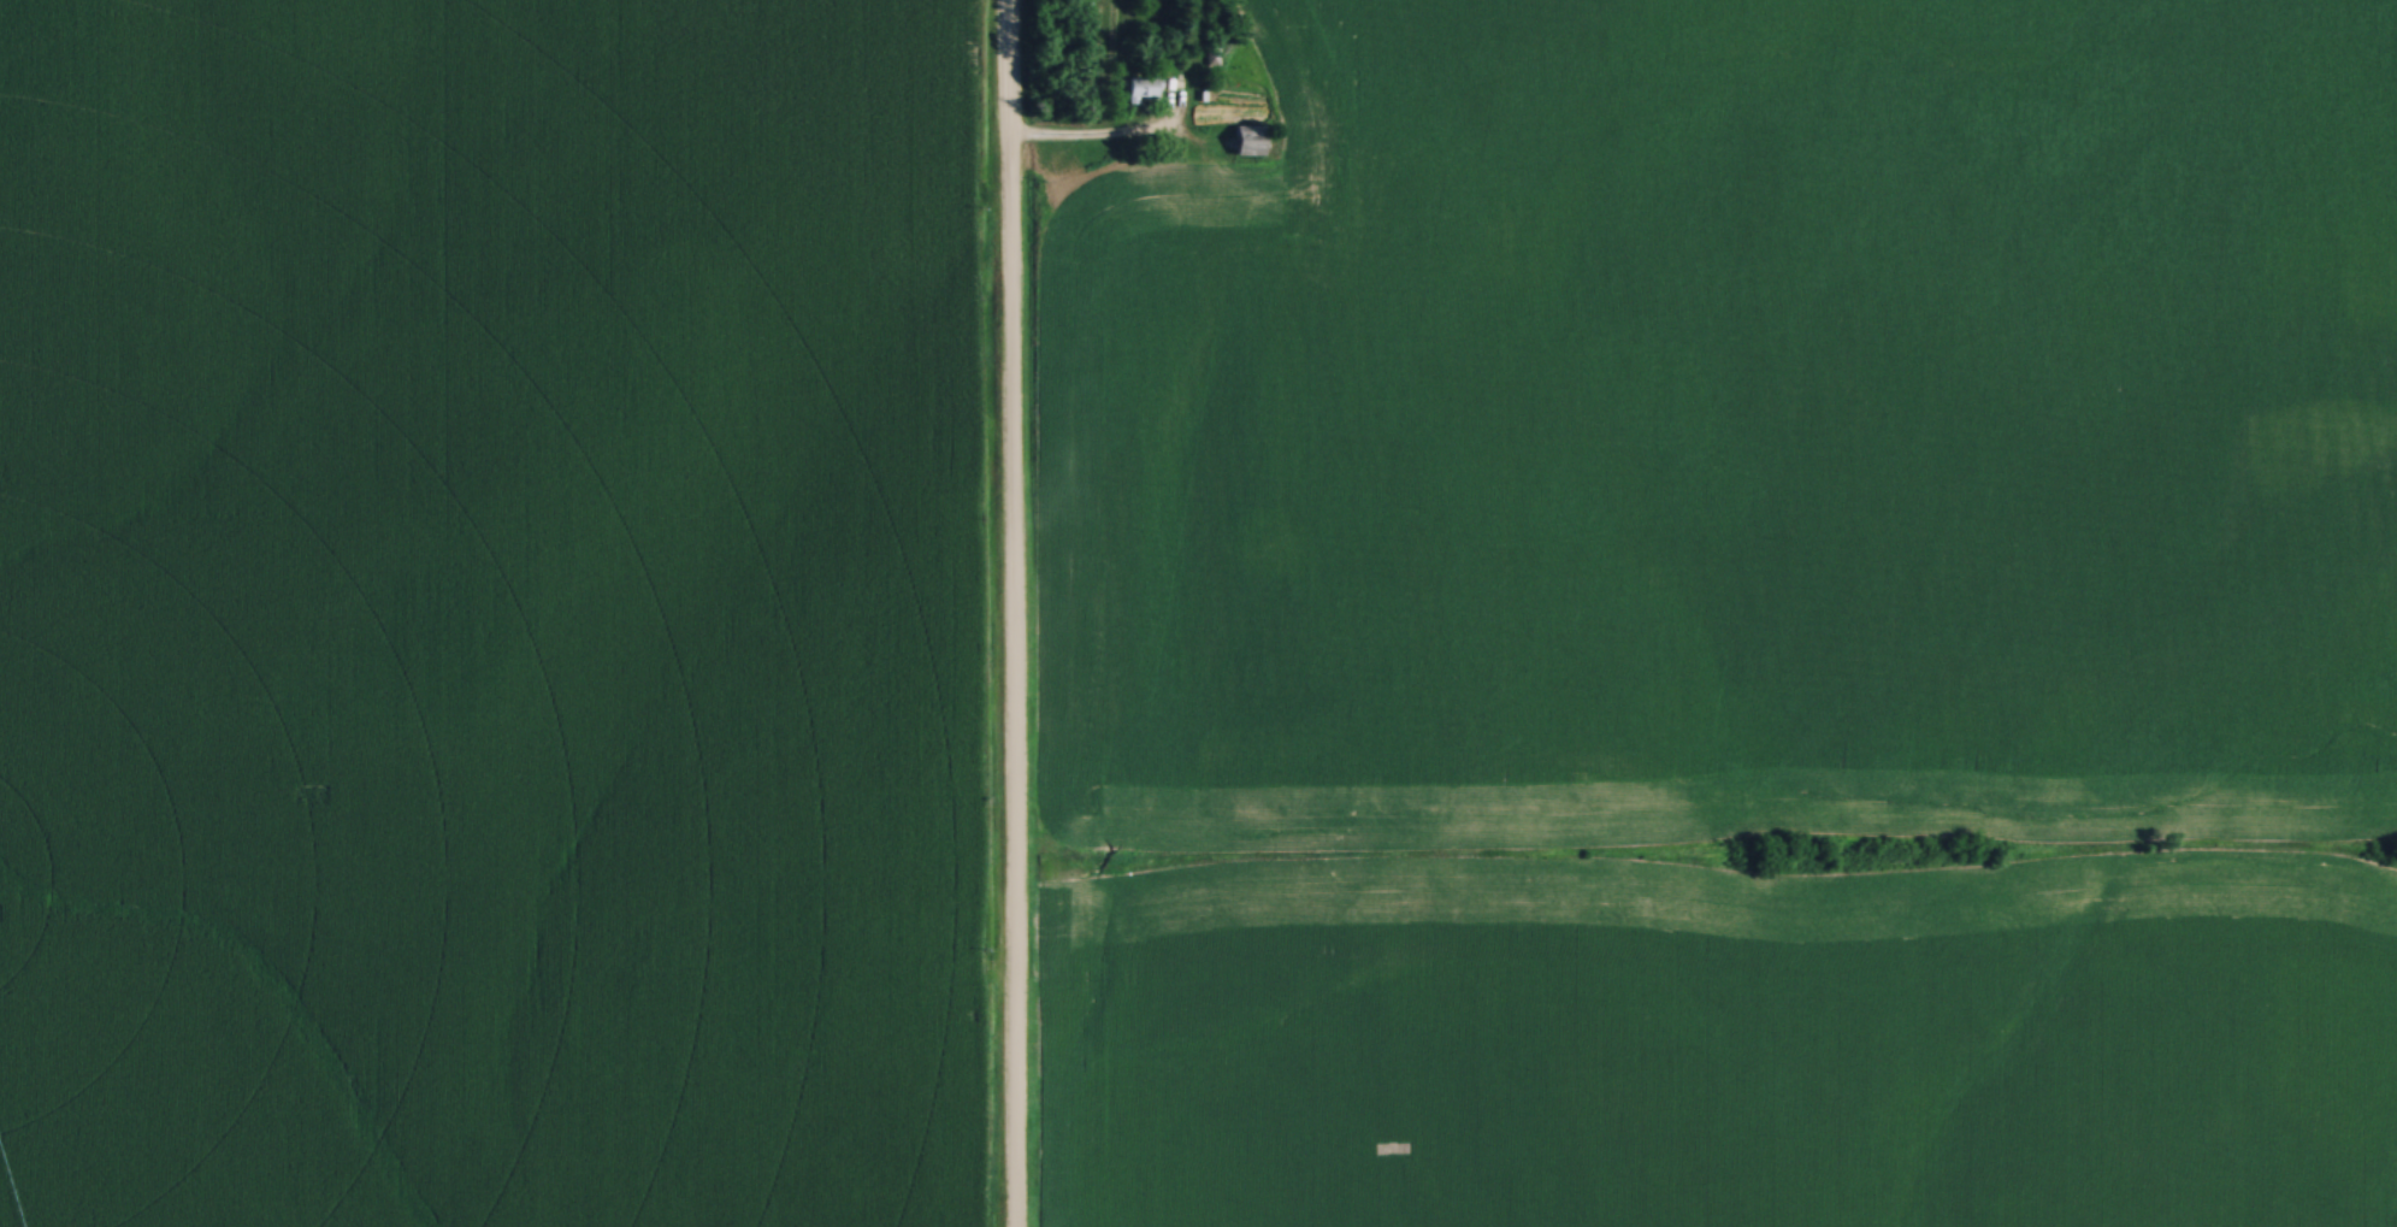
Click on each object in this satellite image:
building: (1141, 89)
building: (1245, 140)
road: (1087, 143)
road: (1012, 613)

